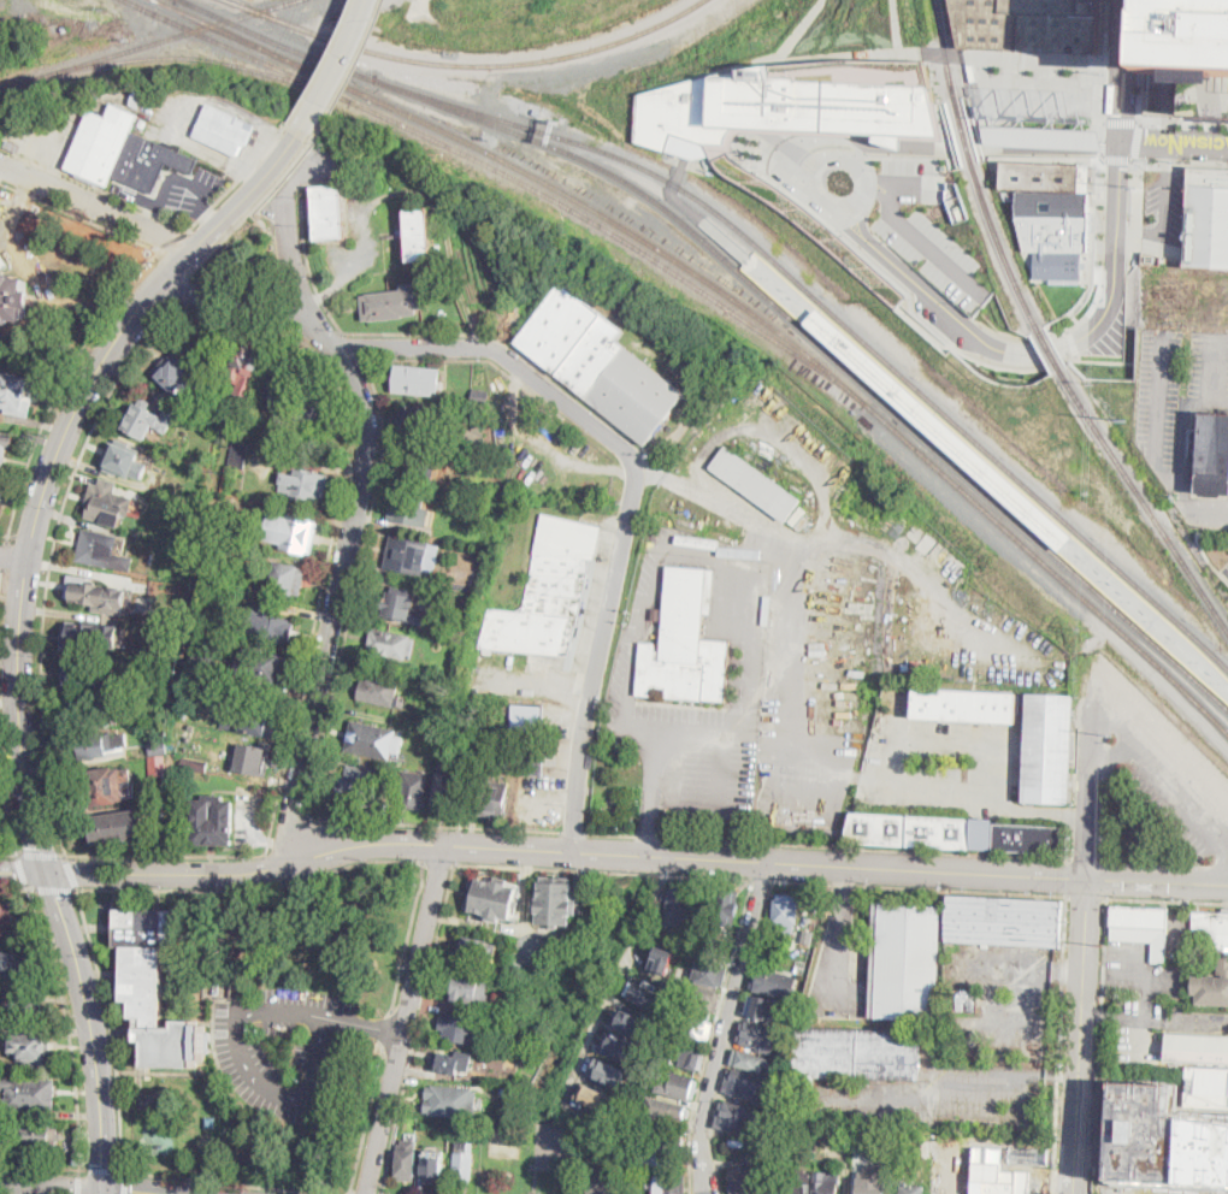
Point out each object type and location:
railway: (130, 2)
railway: (159, 2)
railway: (243, 6)
building: (111, 16)
building: (1028, 25)
building: (65, 29)
railway: (223, 30)
railway: (277, 41)
railway: (144, 43)
road: (961, 48)
railway: (947, 49)
railway: (195, 55)
building: (1189, 58)
parking garage: (1189, 58)
road: (1144, 61)
railway: (482, 63)
road: (325, 64)
road: (340, 66)
road: (1103, 67)
road: (354, 69)
road: (1124, 71)
road: (1146, 77)
road: (1181, 82)
road: (1187, 91)
building: (140, 96)
road: (1099, 96)
road: (1161, 101)
road: (1186, 114)
road: (1180, 119)
road: (987, 120)
road: (1120, 120)
building: (793, 124)
road: (1183, 124)
road: (984, 126)
building: (225, 129)
road: (980, 130)
road: (811, 131)
railway: (966, 132)
road: (890, 135)
road: (1041, 136)
building: (1043, 136)
road: (944, 137)
road: (1100, 137)
road: (860, 138)
road: (891, 140)
road: (1138, 140)
railway: (580, 142)
road: (945, 142)
road: (842, 143)
road: (1100, 143)
building: (13, 144)
building: (101, 144)
road: (1044, 144)
road: (1112, 144)
road: (1174, 144)
road: (768, 148)
road: (777, 150)
road: (1100, 153)
road: (1116, 158)
building: (149, 162)
road: (1180, 164)
building: (370, 165)
building: (996, 165)
railway: (515, 176)
road: (178, 177)
road: (238, 177)
road: (94, 185)
road: (808, 187)
road: (907, 187)
parking lot: (182, 191)
parking lot: (1167, 203)
road: (95, 206)
road: (1138, 206)
road: (1164, 208)
road: (252, 209)
building: (329, 212)
building: (1052, 214)
road: (81, 217)
building: (1208, 218)
road: (266, 226)
building: (419, 235)
road: (291, 240)
road: (173, 242)
road: (929, 243)
road: (277, 248)
railway: (1004, 248)
road: (1096, 249)
road: (1116, 250)
power tower: (1134, 250)
park: (244, 254)
railway: (743, 265)
road: (237, 279)
road: (907, 294)
building: (12, 298)
road: (175, 298)
building: (384, 306)
road: (945, 309)
road: (338, 326)
railway: (780, 330)
road: (1070, 341)
road: (844, 344)
road: (353, 347)
road: (398, 347)
road: (849, 349)
railway: (1049, 349)
railway: (828, 350)
road: (474, 360)
road: (1102, 360)
building: (248, 362)
building: (598, 363)
building: (179, 376)
building: (418, 380)
road: (63, 385)
building: (281, 385)
building: (17, 394)
parking lot: (1177, 395)
building: (480, 397)
road: (1188, 398)
road: (1221, 401)
building: (311, 410)
building: (258, 416)
building: (149, 419)
road: (231, 422)
building: (417, 422)
road: (937, 424)
road: (1157, 427)
building: (5, 447)
building: (238, 453)
building: (1214, 453)
railway: (997, 457)
road: (54, 461)
building: (125, 462)
building: (415, 462)
building: (755, 483)
building: (305, 484)
building: (0, 495)
road: (66, 495)
road: (1211, 496)
railway: (1143, 500)
building: (107, 503)
building: (408, 509)
road: (1205, 510)
building: (797, 514)
building: (295, 532)
road: (8, 534)
road: (1208, 534)
road: (36, 538)
building: (94, 548)
power tower: (1120, 551)
building: (411, 555)
road: (13, 556)
road: (5, 558)
road: (1208, 558)
parking lot: (1226, 569)
road: (1, 573)
road: (25, 577)
building: (288, 578)
road: (1, 581)
road: (356, 591)
building: (87, 592)
building: (547, 592)
road: (337, 603)
building: (397, 604)
building: (271, 627)
building: (81, 636)
building: (686, 640)
building: (391, 644)
road: (601, 645)
building: (262, 664)
building: (202, 667)
building: (83, 673)
building: (479, 687)
building: (379, 690)
road: (299, 693)
building: (964, 707)
building: (88, 714)
building: (527, 719)
building: (252, 720)
railway: (1217, 721)
building: (407, 722)
road: (1105, 723)
power tower: (1111, 733)
building: (461, 737)
road: (890, 737)
building: (373, 740)
building: (468, 743)
building: (98, 745)
building: (155, 747)
building: (1047, 747)
road: (1116, 750)
building: (253, 757)
building: (533, 757)
building: (193, 763)
parking lot: (943, 763)
building: (158, 764)
building: (358, 781)
building: (105, 786)
road: (1092, 786)
road: (1170, 788)
building: (413, 791)
building: (445, 791)
building: (494, 799)
road: (6, 802)
road: (1211, 804)
road: (1038, 810)
building: (212, 812)
building: (212, 821)
road: (433, 823)
building: (119, 829)
road: (572, 832)
building: (952, 833)
road: (285, 834)
road: (681, 837)
road: (305, 846)
road: (566, 849)
road: (921, 851)
road: (8, 852)
road: (40, 853)
road: (1086, 859)
road: (441, 861)
road: (774, 861)
road: (1158, 863)
road: (22, 870)
road: (24, 871)
road: (70, 871)
road: (606, 871)
road: (1067, 877)
road: (1108, 879)
road: (1157, 879)
road: (764, 880)
road: (14, 886)
road: (53, 887)
road: (254, 889)
road: (768, 893)
road: (1086, 895)
building: (492, 897)
building: (707, 898)
building: (556, 899)
road: (1168, 899)
building: (678, 905)
building: (728, 908)
building: (785, 912)
building: (6, 918)
building: (1004, 921)
road: (842, 926)
building: (1141, 928)
building: (649, 934)
road: (406, 935)
power tower: (1102, 942)
building: (719, 948)
building: (473, 951)
building: (144, 958)
building: (665, 959)
building: (905, 962)
building: (1222, 963)
building: (13, 964)
road: (1037, 964)
building: (709, 973)
building: (769, 983)
building: (471, 989)
building: (644, 994)
building: (705, 998)
building: (20, 999)
building: (961, 1000)
building: (766, 1011)
building: (498, 1013)
road: (407, 1018)
road: (1156, 1019)
building: (632, 1021)
road: (365, 1024)
road: (727, 1025)
road: (93, 1027)
road: (113, 1027)
road: (70, 1028)
road: (418, 1028)
road: (388, 1029)
building: (459, 1029)
building: (697, 1030)
road: (715, 1035)
road: (1082, 1035)
building: (757, 1036)
building: (974, 1036)
road: (586, 1042)
building: (620, 1044)
road: (1059, 1044)
building: (928, 1045)
road: (1099, 1045)
building: (30, 1048)
parking lot: (287, 1048)
building: (1197, 1048)
building: (687, 1053)
building: (750, 1062)
building: (850, 1062)
building: (451, 1063)
road: (249, 1069)
building: (609, 1071)
road: (1005, 1072)
building: (743, 1084)
building: (772, 1084)
building: (679, 1087)
building: (1206, 1087)
building: (29, 1094)
building: (596, 1095)
building: (450, 1101)
building: (666, 1106)
building: (830, 1115)
building: (732, 1117)
road: (367, 1121)
building: (590, 1136)
building: (667, 1136)
building: (773, 1136)
building: (35, 1137)
building: (1168, 1141)
building: (737, 1143)
building: (870, 1145)
building: (762, 1148)
park: (529, 1152)
building: (660, 1155)
building: (407, 1162)
building: (435, 1162)
building: (464, 1163)
road: (43, 1166)
road: (104, 1170)
building: (604, 1178)
building: (999, 1178)
road: (533, 1181)
building: (742, 1181)
road: (126, 1182)
building: (797, 1182)
road: (229, 1183)
building: (825, 1183)
road: (51, 1184)
road: (79, 1184)
building: (667, 1184)
building: (869, 1184)
building: (768, 1188)
building: (911, 1189)
road: (101, 1190)
road: (128, 1190)

